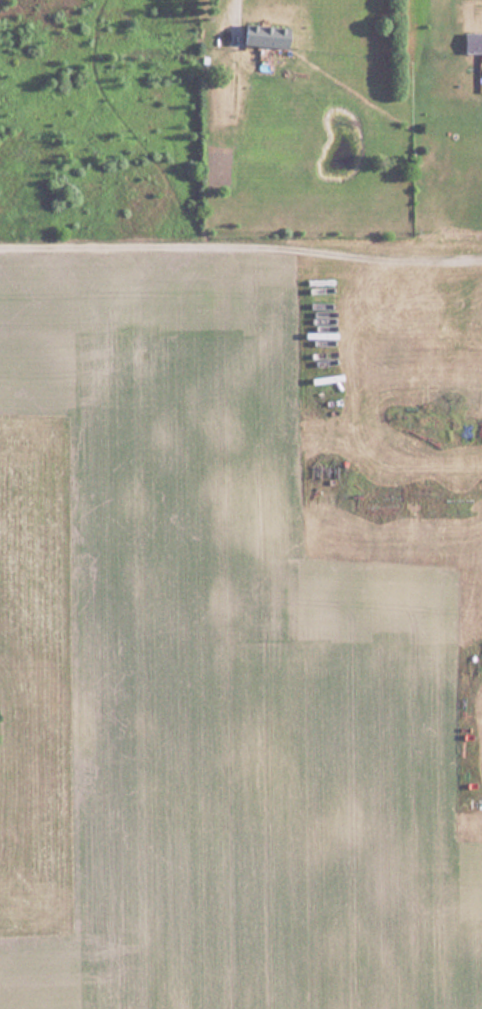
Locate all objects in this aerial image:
building: (270, 34)
building: (473, 41)

